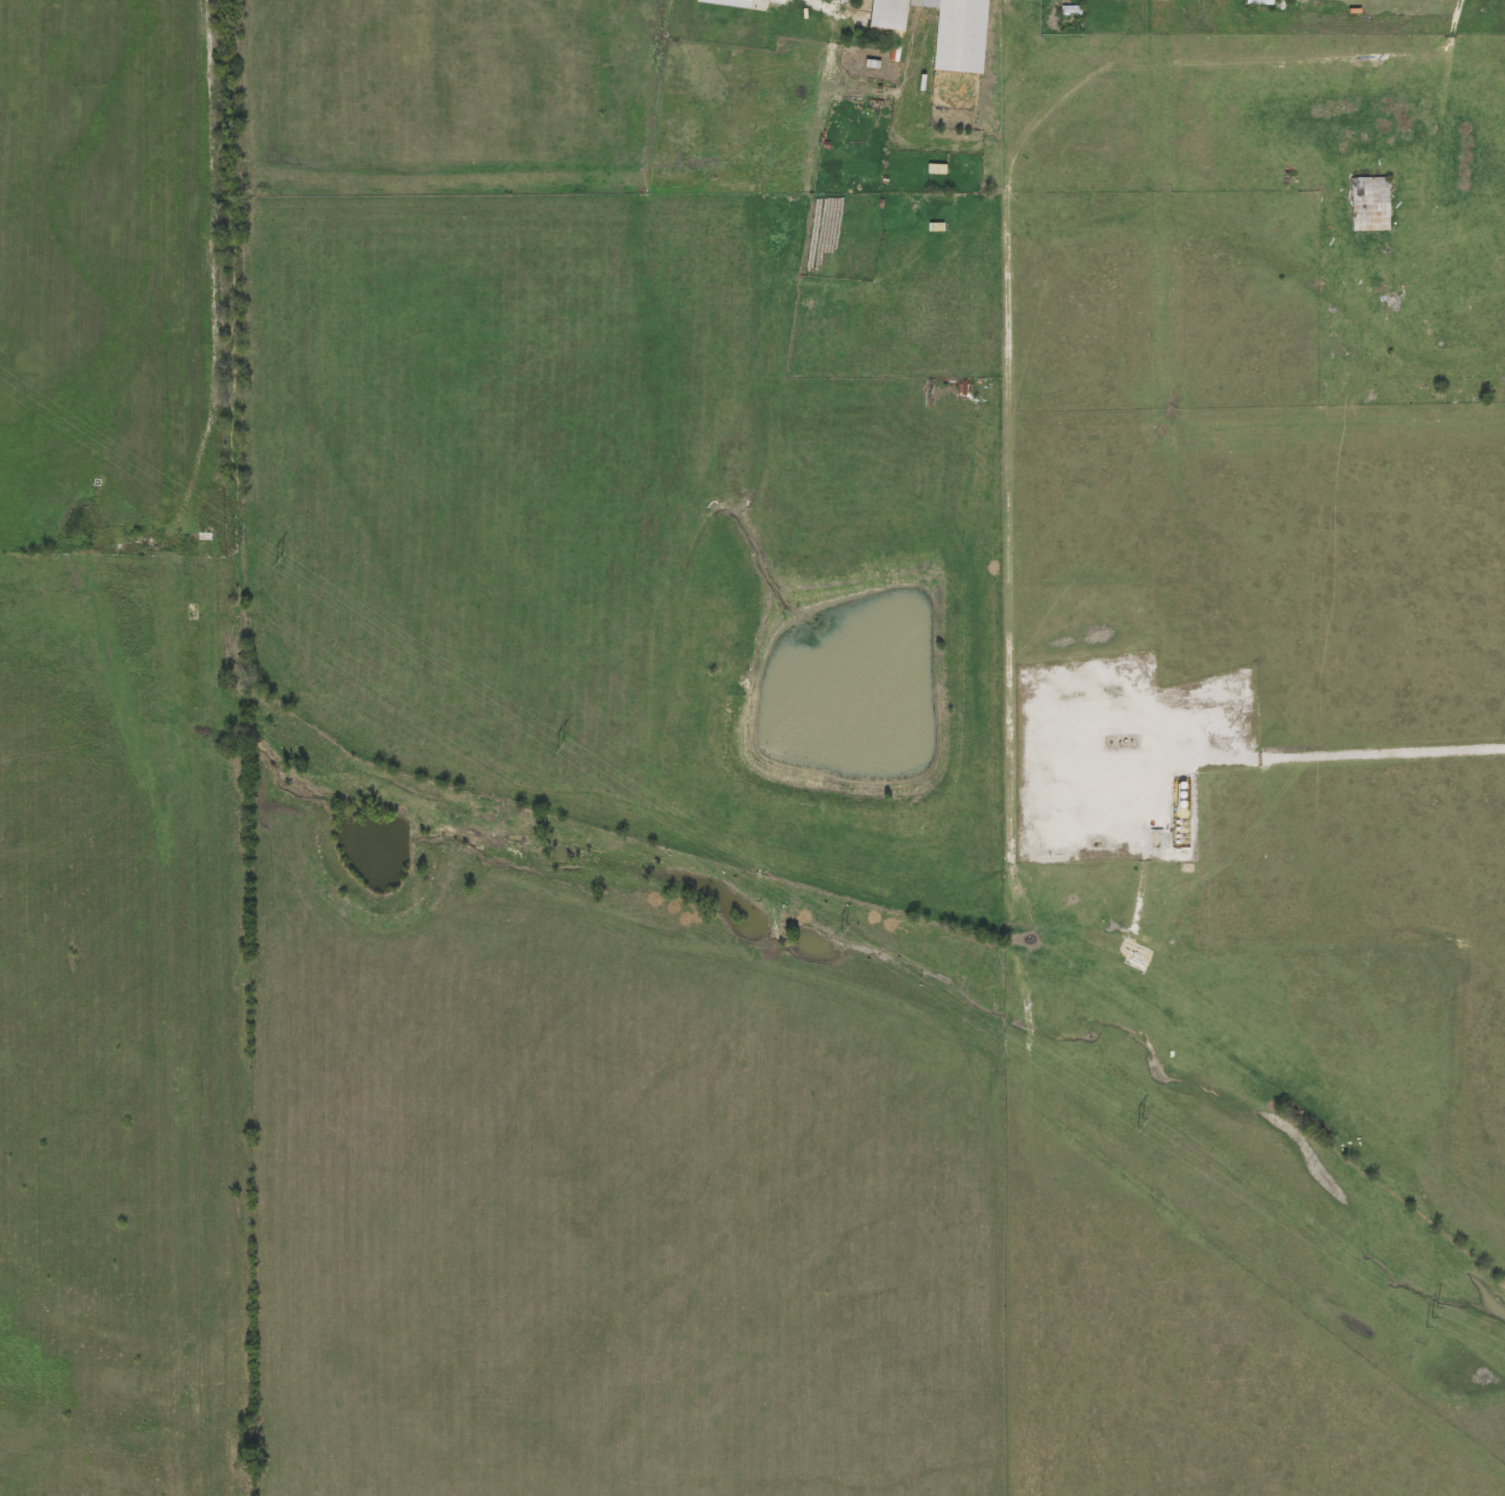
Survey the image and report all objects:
building: (731, 2)
building: (1262, 2)
road: (1450, 7)
building: (892, 13)
building: (964, 35)
building: (938, 169)
building: (1373, 204)
building: (1381, 288)
road: (1351, 748)

